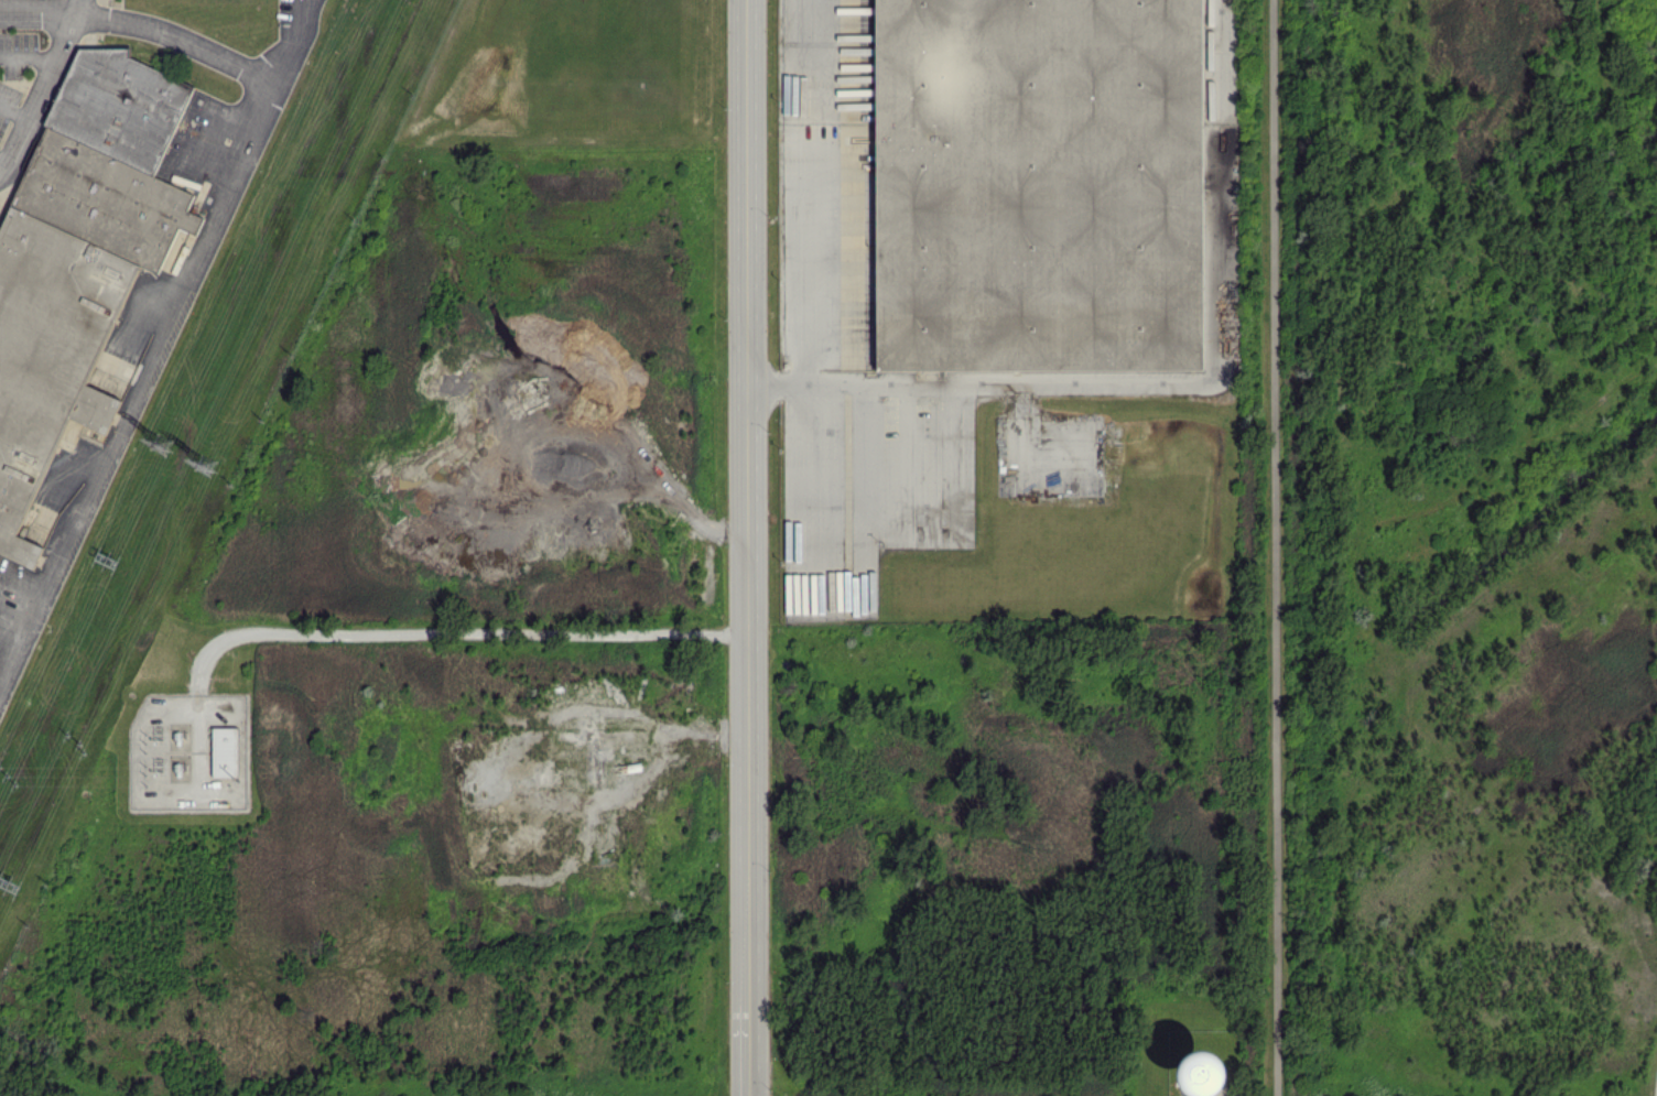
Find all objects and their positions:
road: (77, 8)
road: (45, 14)
road: (290, 40)
road: (185, 42)
road: (29, 55)
road: (39, 95)
road: (14, 110)
road: (4, 160)
building: (1038, 191)
building: (73, 241)
road: (805, 303)
road: (1169, 381)
road: (137, 383)
building: (106, 409)
power tower: (154, 443)
power tower: (210, 464)
road: (749, 547)
road: (1278, 547)
power tower: (104, 562)
road: (464, 631)
power tower: (77, 744)
building: (224, 751)
power substation: (193, 758)
power tower: (7, 777)
power tower: (7, 886)
building: (1204, 1074)
water tower: (1206, 1074)

